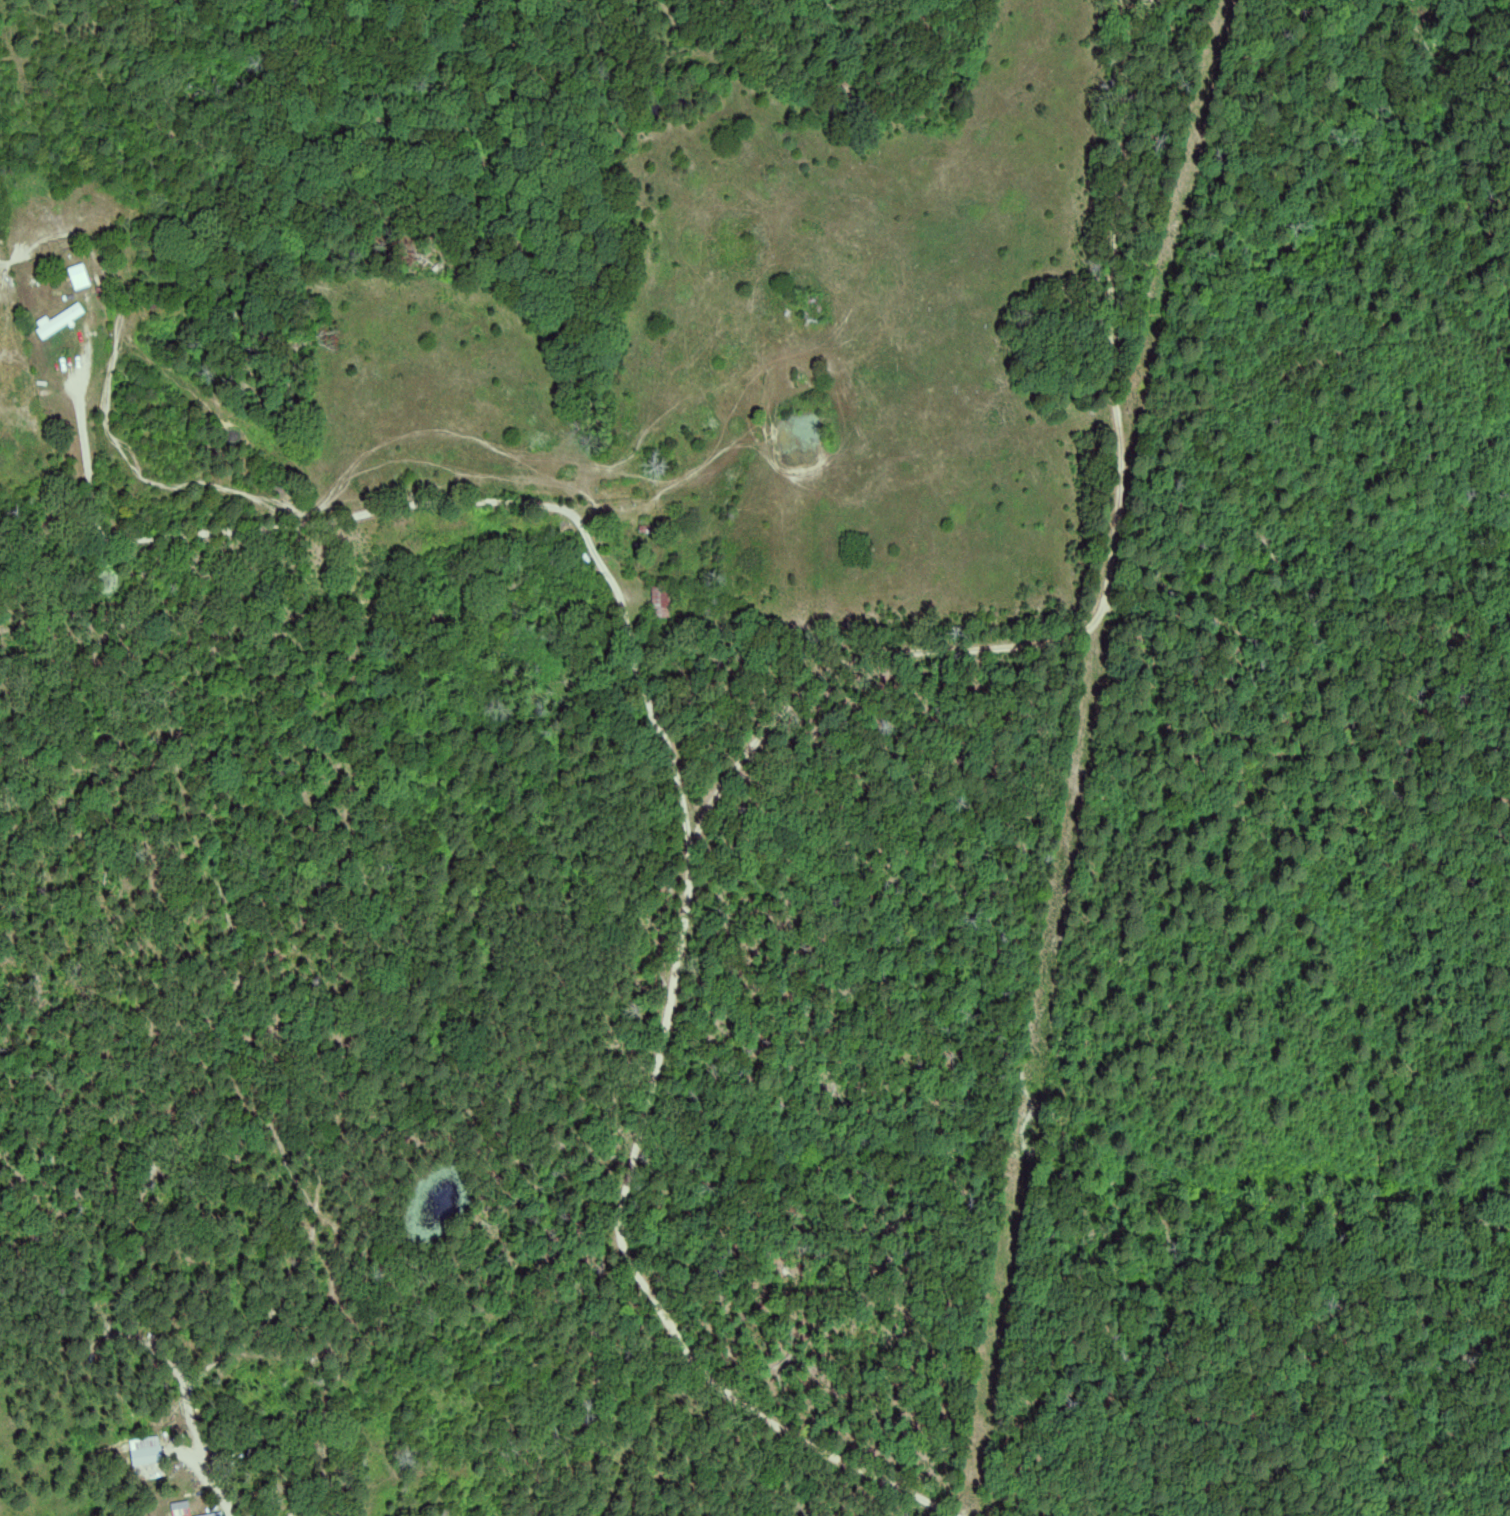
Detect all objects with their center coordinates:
building: (81, 276)
building: (61, 320)
road: (401, 485)
road: (703, 757)

